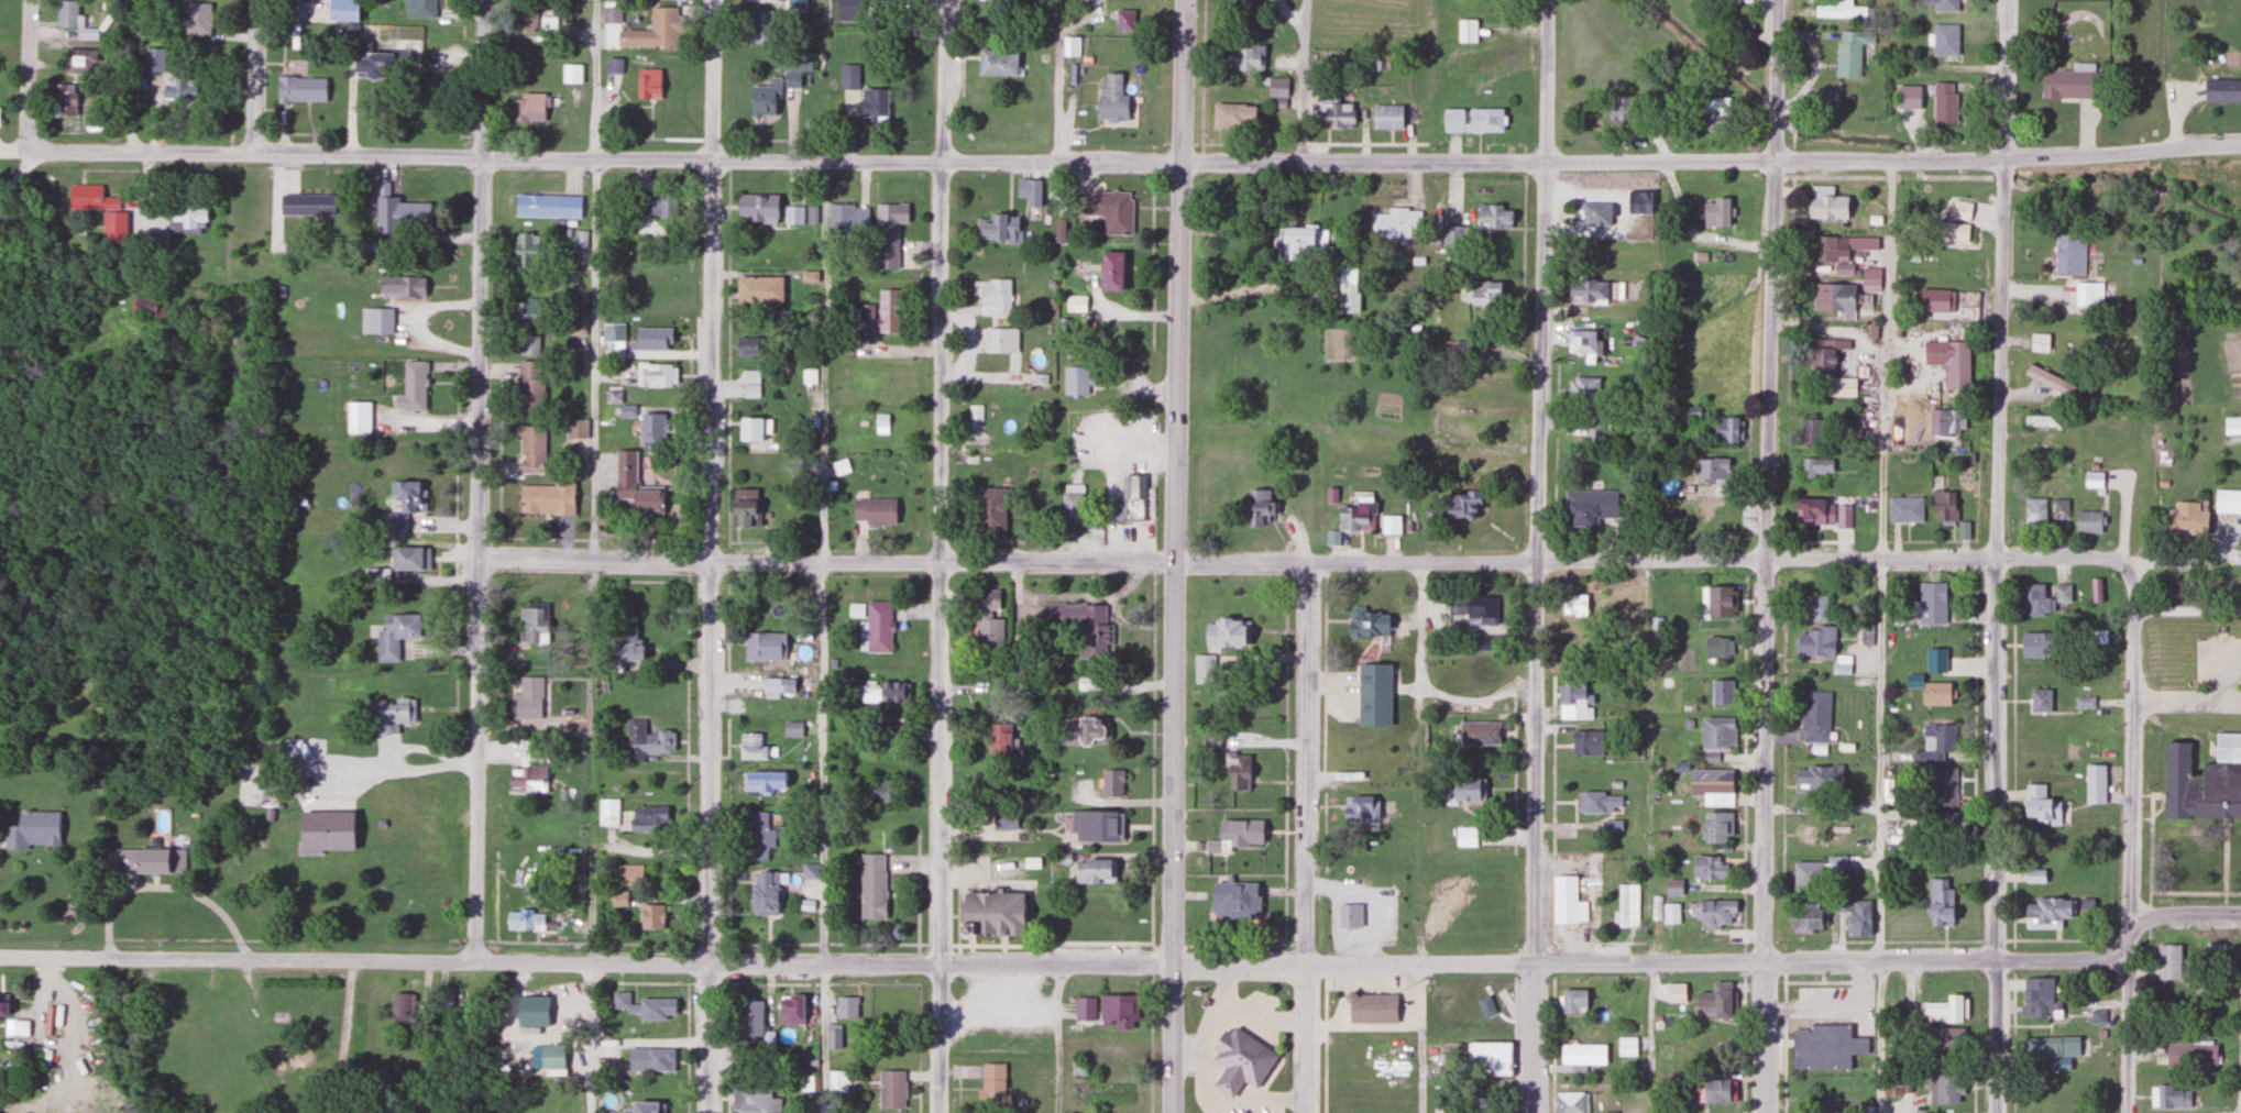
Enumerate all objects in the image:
building: (995, 1)
building: (1740, 1)
building: (795, 3)
building: (1944, 4)
building: (418, 9)
building: (342, 10)
building: (1838, 10)
building: (611, 14)
building: (197, 19)
building: (75, 20)
building: (526, 21)
building: (1124, 21)
building: (546, 24)
building: (760, 26)
building: (651, 31)
building: (1465, 31)
building: (1739, 31)
building: (350, 32)
building: (1943, 38)
building: (124, 48)
building: (1070, 53)
building: (1846, 54)
building: (1244, 57)
building: (154, 58)
building: (79, 60)
building: (996, 63)
building: (380, 65)
building: (614, 66)
building: (572, 73)
road: (28, 75)
road: (255, 76)
building: (848, 76)
road: (1303, 80)
building: (648, 82)
building: (2068, 82)
building: (1276, 87)
building: (300, 88)
building: (177, 89)
building: (2221, 89)
building: (1110, 98)
building: (1825, 98)
building: (64, 99)
building: (1943, 102)
building: (872, 103)
building: (529, 107)
building: (1614, 107)
building: (1331, 110)
building: (1231, 115)
building: (1716, 115)
building: (1385, 117)
building: (1484, 119)
building: (1448, 122)
road: (789, 156)
road: (1892, 159)
road: (20, 173)
building: (1029, 192)
building: (90, 198)
building: (650, 202)
building: (1824, 202)
building: (304, 203)
building: (547, 206)
building: (756, 208)
building: (1107, 210)
building: (1959, 210)
building: (1714, 212)
building: (399, 214)
building: (800, 214)
building: (1594, 214)
building: (186, 216)
building: (1493, 217)
building: (839, 219)
building: (1393, 223)
building: (999, 229)
building: (1947, 231)
building: (886, 235)
building: (1451, 235)
building: (581, 239)
building: (1301, 239)
building: (157, 242)
building: (1831, 250)
building: (1875, 250)
building: (526, 251)
building: (2067, 253)
building: (1110, 271)
road: (595, 279)
road: (713, 279)
building: (402, 286)
building: (758, 288)
building: (1585, 290)
building: (990, 293)
building: (1482, 294)
building: (2087, 294)
building: (1348, 298)
building: (1834, 298)
building: (1933, 299)
building: (1075, 304)
building: (143, 306)
building: (875, 313)
building: (523, 315)
building: (375, 320)
building: (614, 331)
building: (651, 338)
building: (2039, 341)
building: (1580, 343)
building: (990, 344)
building: (529, 345)
building: (745, 345)
building: (1826, 353)
building: (1954, 365)
building: (655, 374)
building: (1076, 381)
building: (2050, 381)
building: (1841, 386)
building: (411, 387)
building: (530, 387)
building: (1583, 389)
building: (358, 417)
building: (2044, 420)
building: (1947, 422)
building: (2231, 426)
building: (1583, 427)
building: (574, 428)
building: (652, 429)
building: (753, 429)
building: (1726, 429)
building: (1811, 431)
building: (530, 449)
building: (1816, 467)
building: (1711, 471)
building: (2091, 480)
road: (477, 481)
road: (943, 482)
building: (633, 484)
building: (545, 499)
building: (1131, 500)
building: (2227, 502)
building: (403, 505)
building: (1459, 506)
building: (1070, 507)
building: (1589, 507)
building: (1943, 507)
building: (743, 508)
building: (1255, 508)
building: (2058, 508)
building: (989, 509)
building: (1904, 510)
building: (2034, 510)
building: (872, 511)
building: (1820, 514)
building: (1354, 518)
building: (2185, 519)
building: (2086, 522)
building: (1389, 526)
road: (1174, 555)
road: (1538, 555)
road: (1766, 555)
road: (1998, 556)
building: (409, 560)
road: (1008, 561)
road: (1901, 561)
building: (2061, 593)
building: (987, 599)
building: (2034, 600)
building: (1717, 602)
building: (1931, 604)
building: (1575, 605)
building: (1812, 609)
building: (1472, 610)
building: (529, 624)
building: (1078, 624)
building: (1365, 625)
building: (877, 627)
building: (1224, 633)
building: (393, 636)
building: (987, 636)
building: (2097, 637)
building: (1813, 643)
building: (624, 646)
building: (2033, 646)
building: (764, 647)
building: (1717, 648)
building: (1842, 665)
building: (1482, 672)
building: (772, 685)
building: (886, 692)
building: (1721, 693)
building: (1936, 694)
building: (1372, 696)
building: (526, 699)
building: (1573, 702)
building: (2039, 702)
building: (389, 716)
building: (1815, 718)
building: (792, 729)
building: (1081, 731)
building: (1476, 735)
building: (1715, 735)
building: (998, 740)
building: (645, 741)
building: (1584, 743)
building: (1934, 743)
building: (755, 749)
road: (1152, 759)
road: (1325, 760)
road: (1285, 761)
road: (1745, 763)
building: (1237, 771)
building: (1817, 779)
building: (2204, 779)
building: (525, 781)
building: (762, 783)
building: (1110, 783)
building: (1711, 785)
building: (2094, 785)
building: (1943, 787)
building: (878, 791)
building: (1464, 791)
building: (1599, 804)
building: (2039, 806)
building: (300, 808)
building: (1354, 811)
building: (607, 813)
building: (1002, 817)
building: (648, 819)
building: (1841, 824)
building: (1945, 824)
building: (1095, 827)
building: (1715, 829)
building: (32, 831)
road: (707, 836)
building: (757, 836)
building: (1234, 836)
road: (1305, 836)
building: (1804, 836)
road: (822, 837)
building: (1464, 838)
building: (1833, 839)
road: (2, 842)
road: (2131, 845)
building: (139, 862)
building: (1707, 868)
building: (1094, 871)
building: (1814, 871)
building: (628, 875)
building: (2033, 877)
building: (870, 888)
building: (1672, 889)
road: (169, 890)
building: (762, 894)
building: (400, 896)
building: (617, 900)
building: (1232, 901)
building: (1567, 903)
building: (1940, 904)
building: (1627, 906)
building: (989, 911)
building: (1670, 914)
building: (2045, 914)
building: (1715, 915)
road: (2185, 915)
building: (1855, 916)
building: (650, 917)
building: (1803, 917)
building: (521, 921)
road: (592, 940)
road: (1048, 940)
road: (706, 943)
road: (823, 943)
road: (1362, 943)
road: (938, 944)
road: (1233, 944)
road: (1304, 944)
road: (1167, 945)
building: (2210, 952)
road: (1152, 959)
road: (1325, 960)
road: (1744, 960)
road: (1832, 962)
building: (2168, 962)
road: (767, 965)
road: (1817, 980)
building: (1674, 993)
building: (443, 999)
building: (2037, 999)
building: (1716, 1001)
building: (1575, 1002)
building: (1370, 1006)
building: (642, 1007)
building: (1449, 1007)
building: (1486, 1007)
building: (0, 1009)
building: (845, 1009)
building: (400, 1010)
building: (1084, 1010)
building: (789, 1011)
building: (1117, 1011)
building: (1945, 1011)
building: (2097, 1017)
building: (751, 1023)
road: (1879, 1037)
road: (590, 1038)
building: (833, 1038)
road: (938, 1038)
road: (1057, 1038)
road: (1419, 1038)
road: (348, 1040)
road: (1744, 1040)
building: (1944, 1040)
road: (1325, 1042)
road: (1151, 1043)
road: (1784, 1043)
building: (1824, 1046)
building: (1627, 1047)
building: (1112, 1051)
building: (2052, 1051)
road: (1200, 1053)
building: (1583, 1053)
building: (2189, 1053)
building: (292, 1057)
building: (550, 1057)
building: (1488, 1057)
building: (650, 1060)
building: (1239, 1060)
road: (1229, 1077)
building: (1894, 1084)
building: (804, 1087)
building: (991, 1087)
building: (890, 1090)
building: (1944, 1090)
building: (1714, 1092)
road: (958, 1094)
road: (1271, 1095)
building: (753, 1099)
building: (2168, 1099)
building: (2047, 1101)
building: (1570, 1103)
building: (1482, 1106)
building: (644, 1108)

